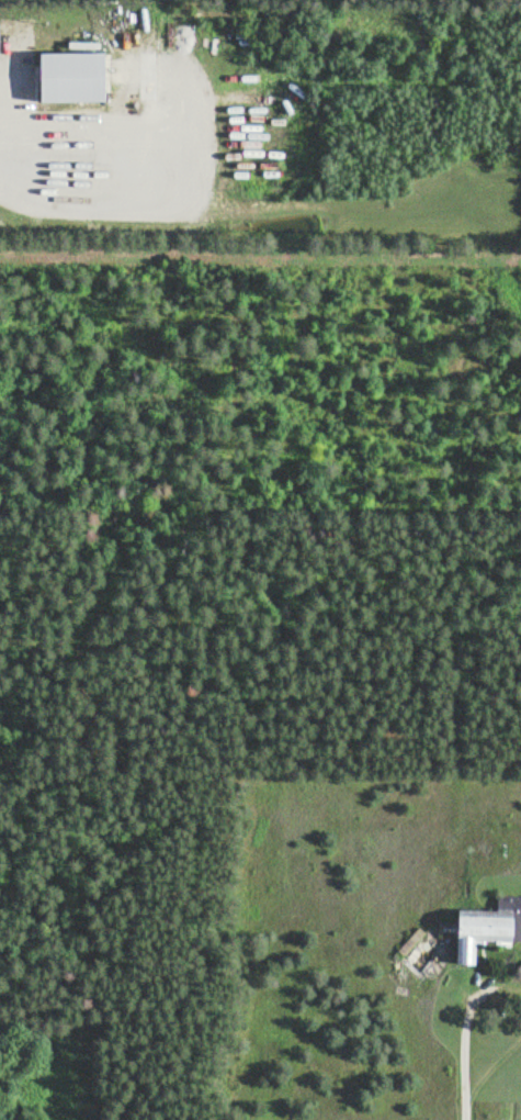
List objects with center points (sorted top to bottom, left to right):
building: (71, 75)
road: (3, 139)
building: (487, 923)

